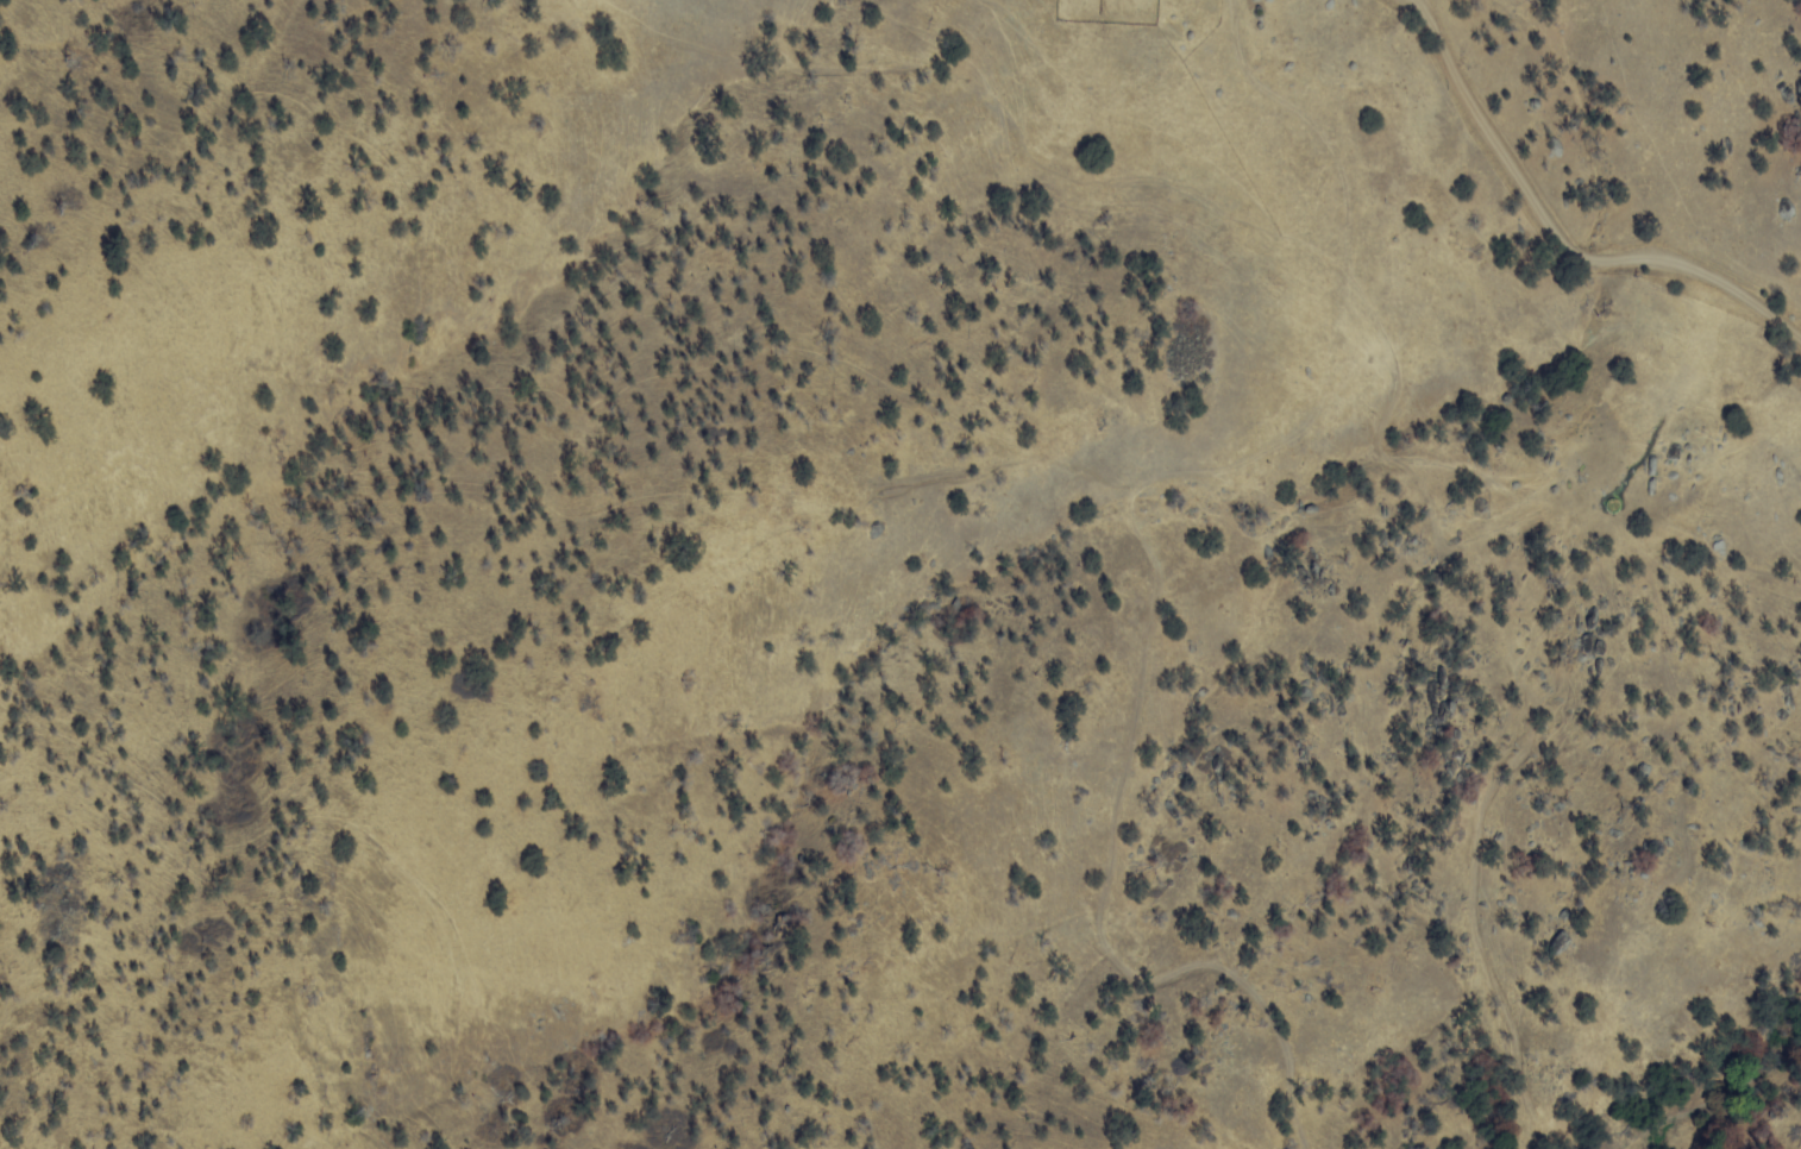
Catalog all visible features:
road: (1639, 268)

